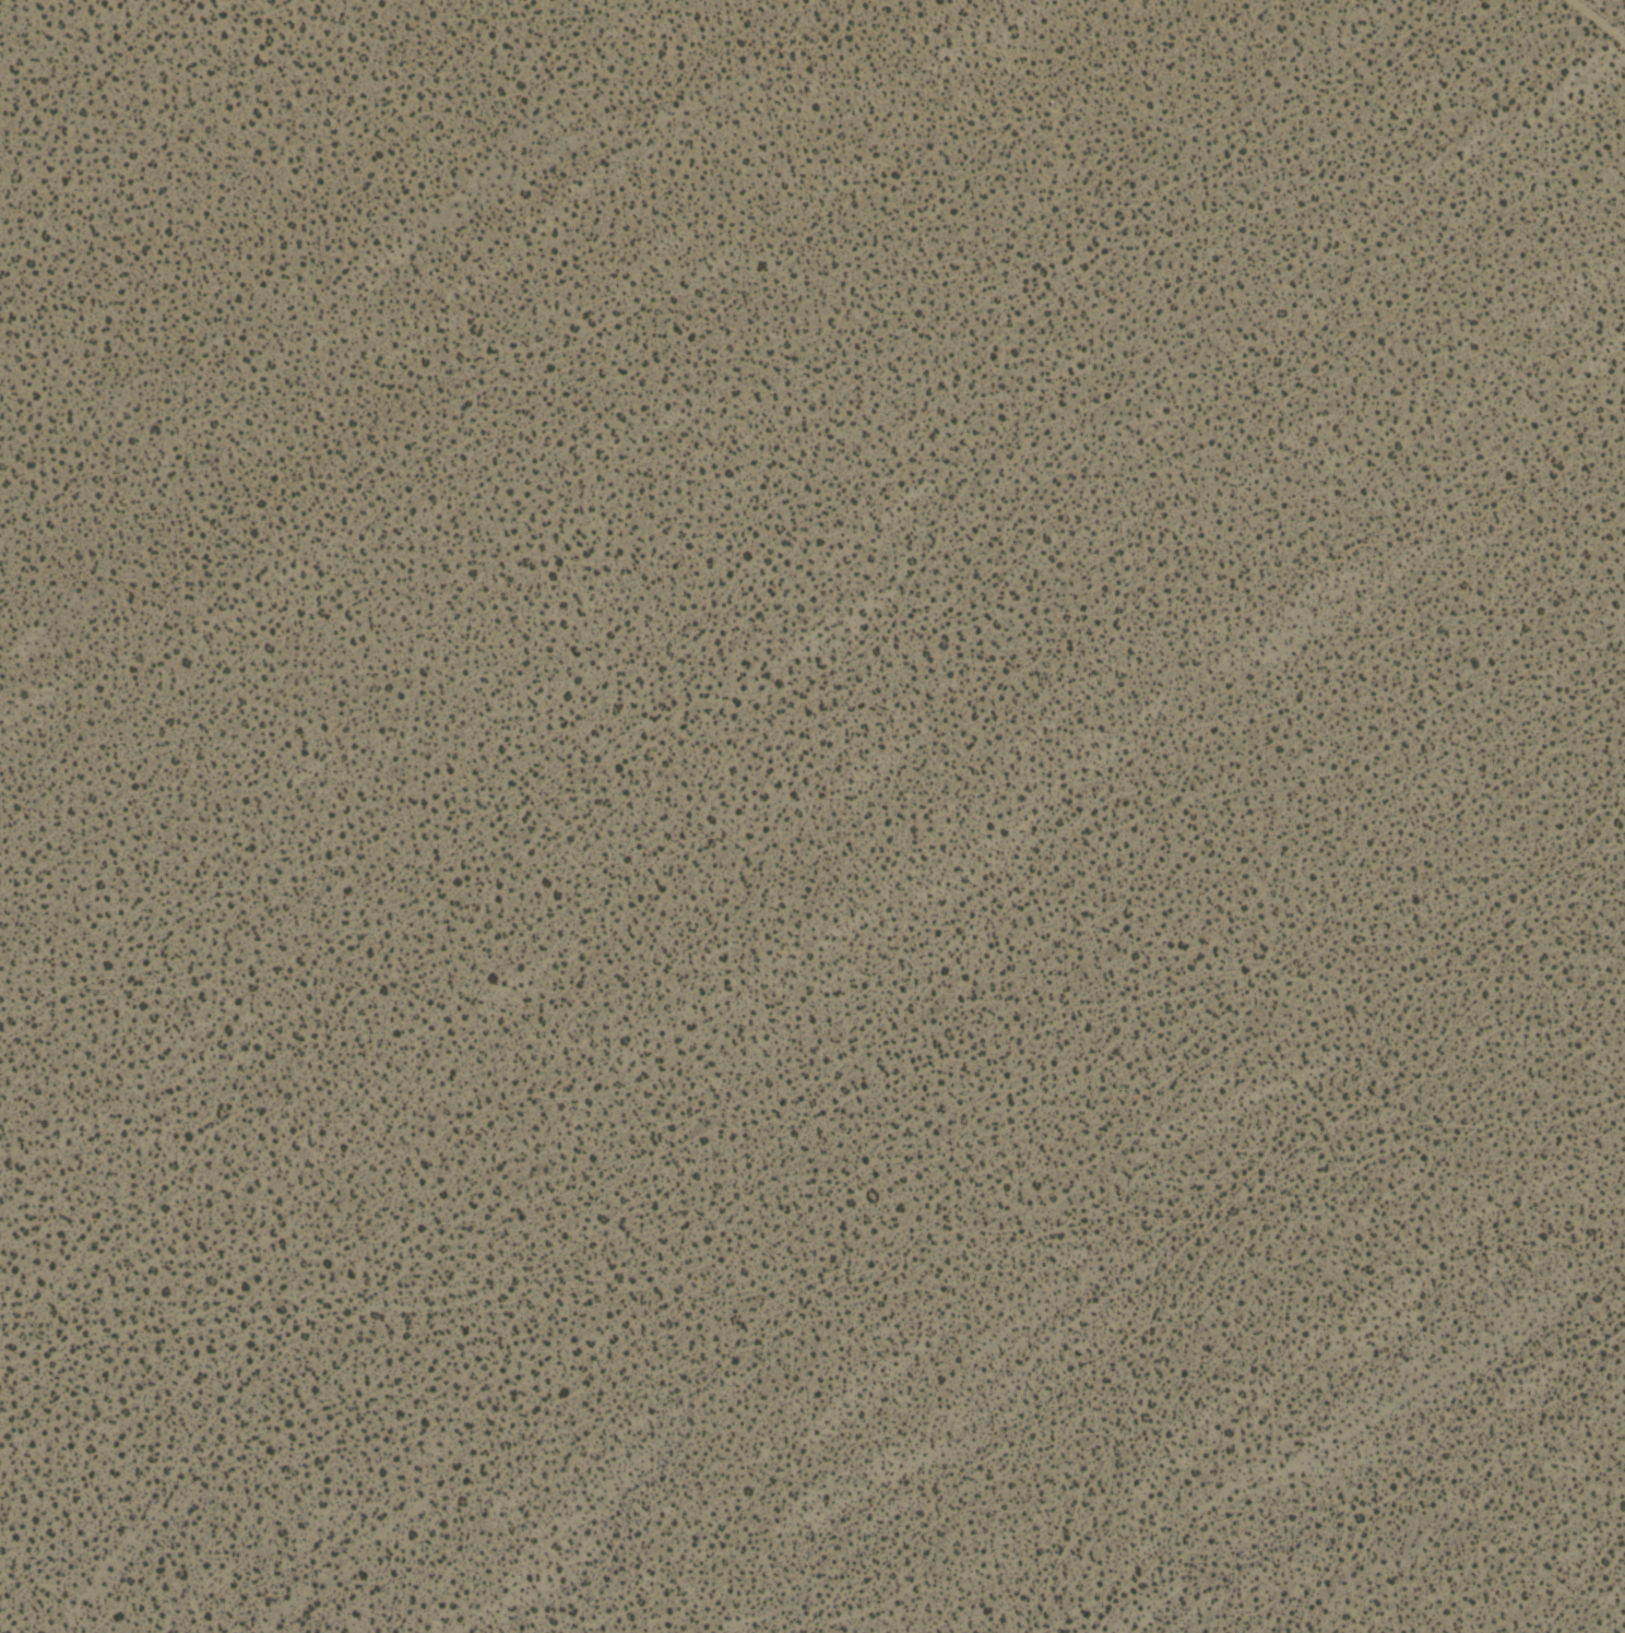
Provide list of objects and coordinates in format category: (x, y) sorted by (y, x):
road: (1601, 19)

